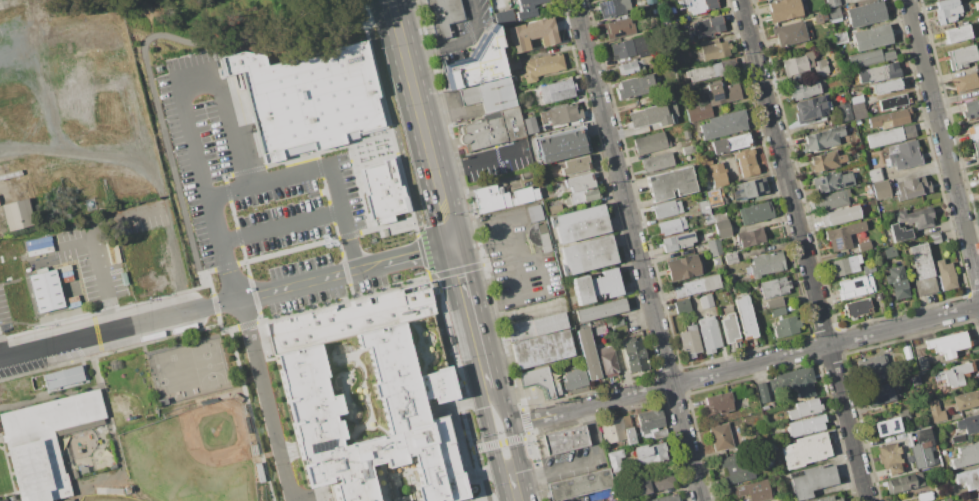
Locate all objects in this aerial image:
building: (660, 0)
building: (765, 0)
building: (768, 0)
building: (650, 1)
building: (832, 3)
building: (976, 5)
road: (391, 7)
building: (696, 7)
building: (527, 8)
rooftop solar panel: (608, 8)
building: (614, 10)
building: (784, 10)
building: (948, 10)
building: (867, 14)
building: (834, 15)
building: (444, 16)
building: (665, 16)
building: (505, 18)
building: (820, 18)
road: (381, 21)
building: (709, 27)
building: (619, 28)
parking lot: (470, 30)
building: (536, 30)
rooftop solar panel: (619, 34)
building: (789, 34)
building: (957, 34)
building: (674, 37)
building: (840, 38)
building: (872, 38)
road: (459, 46)
building: (630, 47)
building: (716, 51)
building: (887, 53)
building: (680, 54)
building: (963, 57)
building: (647, 58)
building: (810, 58)
building: (865, 59)
building: (475, 64)
building: (795, 65)
building: (542, 66)
building: (729, 66)
building: (631, 67)
building: (821, 68)
building: (705, 72)
building: (879, 73)
building: (966, 82)
building: (670, 83)
building: (888, 86)
building: (635, 87)
building: (806, 90)
building: (557, 91)
building: (722, 93)
building: (697, 94)
building: (489, 95)
building: (309, 96)
building: (856, 99)
rooftop solar panel: (717, 100)
building: (894, 102)
building: (858, 106)
building: (811, 108)
building: (971, 110)
road: (232, 111)
building: (699, 112)
building: (845, 112)
building: (562, 114)
building: (860, 114)
building: (649, 116)
building: (679, 118)
building: (890, 120)
building: (858, 122)
building: (830, 123)
building: (724, 125)
road: (421, 129)
building: (493, 130)
building: (974, 132)
building: (686, 134)
building: (891, 136)
building: (824, 138)
road: (373, 143)
building: (652, 143)
building: (728, 144)
road: (943, 144)
building: (561, 146)
building: (976, 148)
building: (689, 150)
building: (903, 156)
road: (397, 159)
road: (403, 159)
road: (477, 160)
building: (826, 161)
building: (706, 162)
building: (658, 163)
building: (747, 163)
building: (575, 166)
road: (321, 167)
building: (715, 169)
parking lot: (247, 171)
building: (978, 172)
building: (10, 175)
road: (224, 175)
building: (876, 175)
building: (718, 179)
building: (832, 182)
building: (579, 183)
building: (670, 184)
building: (759, 186)
building: (912, 188)
building: (385, 191)
building: (487, 191)
building: (742, 191)
building: (881, 191)
road: (206, 193)
building: (583, 195)
building: (715, 198)
road: (364, 199)
building: (832, 199)
building: (506, 200)
building: (704, 208)
building: (555, 209)
building: (667, 209)
road: (331, 212)
building: (756, 213)
building: (535, 214)
building: (18, 215)
building: (719, 216)
building: (840, 216)
building: (916, 218)
building: (707, 219)
building: (579, 224)
building: (672, 226)
road: (281, 227)
road: (471, 229)
building: (722, 229)
building: (704, 232)
building: (899, 233)
building: (843, 236)
building: (539, 237)
rooftop solar panel: (685, 238)
building: (750, 238)
building: (933, 239)
road: (500, 241)
building: (678, 243)
traffic signals: (451, 244)
rooftop solar panel: (838, 244)
building: (38, 246)
building: (862, 246)
building: (714, 247)
road: (295, 249)
road: (637, 250)
road: (802, 250)
building: (889, 252)
building: (943, 252)
building: (588, 255)
building: (730, 258)
parking lot: (517, 261)
building: (920, 261)
road: (537, 262)
building: (767, 264)
building: (845, 265)
road: (99, 268)
building: (683, 268)
building: (868, 268)
road: (343, 273)
building: (894, 275)
building: (945, 275)
road: (509, 278)
building: (735, 278)
road: (462, 285)
building: (697, 286)
building: (926, 286)
building: (595, 287)
building: (775, 288)
building: (856, 288)
building: (899, 289)
building: (49, 291)
building: (879, 297)
building: (706, 302)
building: (775, 304)
road: (214, 306)
building: (682, 306)
building: (857, 308)
building: (727, 310)
building: (600, 311)
building: (778, 312)
road: (517, 315)
building: (348, 318)
building: (746, 318)
road: (166, 319)
building: (787, 326)
building: (537, 327)
building: (729, 328)
road: (126, 329)
building: (621, 329)
building: (709, 335)
road: (444, 338)
building: (606, 340)
building: (690, 342)
road: (63, 344)
building: (948, 344)
building: (542, 349)
building: (588, 354)
building: (635, 356)
road: (480, 357)
road: (6, 358)
building: (607, 362)
building: (922, 363)
road: (744, 365)
building: (871, 365)
building: (906, 369)
park: (189, 372)
building: (956, 374)
building: (64, 377)
building: (573, 377)
building: (795, 379)
building: (541, 381)
building: (916, 381)
building: (771, 384)
building: (16, 388)
road: (462, 393)
road: (486, 393)
building: (763, 393)
building: (878, 394)
road: (263, 400)
building: (966, 400)
road: (468, 401)
building: (719, 404)
road: (499, 405)
road: (437, 406)
traffic signals: (482, 407)
building: (765, 408)
building: (805, 409)
building: (313, 410)
building: (936, 412)
building: (903, 414)
building: (651, 424)
building: (969, 424)
rooftop solar panel: (894, 425)
building: (806, 426)
rooftop solar panel: (880, 427)
park: (134, 428)
building: (882, 428)
building: (619, 430)
road: (488, 435)
building: (722, 437)
traffic signals: (474, 438)
building: (566, 439)
building: (751, 440)
rooftop solar panel: (319, 442)
building: (45, 443)
road: (494, 443)
road: (514, 446)
road: (477, 448)
building: (923, 449)
building: (804, 451)
building: (650, 454)
building: (966, 456)
park: (192, 457)
road: (464, 458)
building: (890, 458)
traffic signals: (480, 459)
road: (579, 461)
building: (615, 461)
building: (766, 461)
building: (736, 469)
road: (510, 473)
traffic signals: (510, 473)
building: (968, 479)
building: (812, 481)
building: (654, 483)
building: (580, 485)
building: (902, 485)
road: (514, 490)
building: (754, 492)
road: (491, 494)
building: (927, 496)
building: (977, 496)
park: (105, 498)
road: (479, 498)
building: (667, 498)
building: (830, 499)
building: (4, 500)

